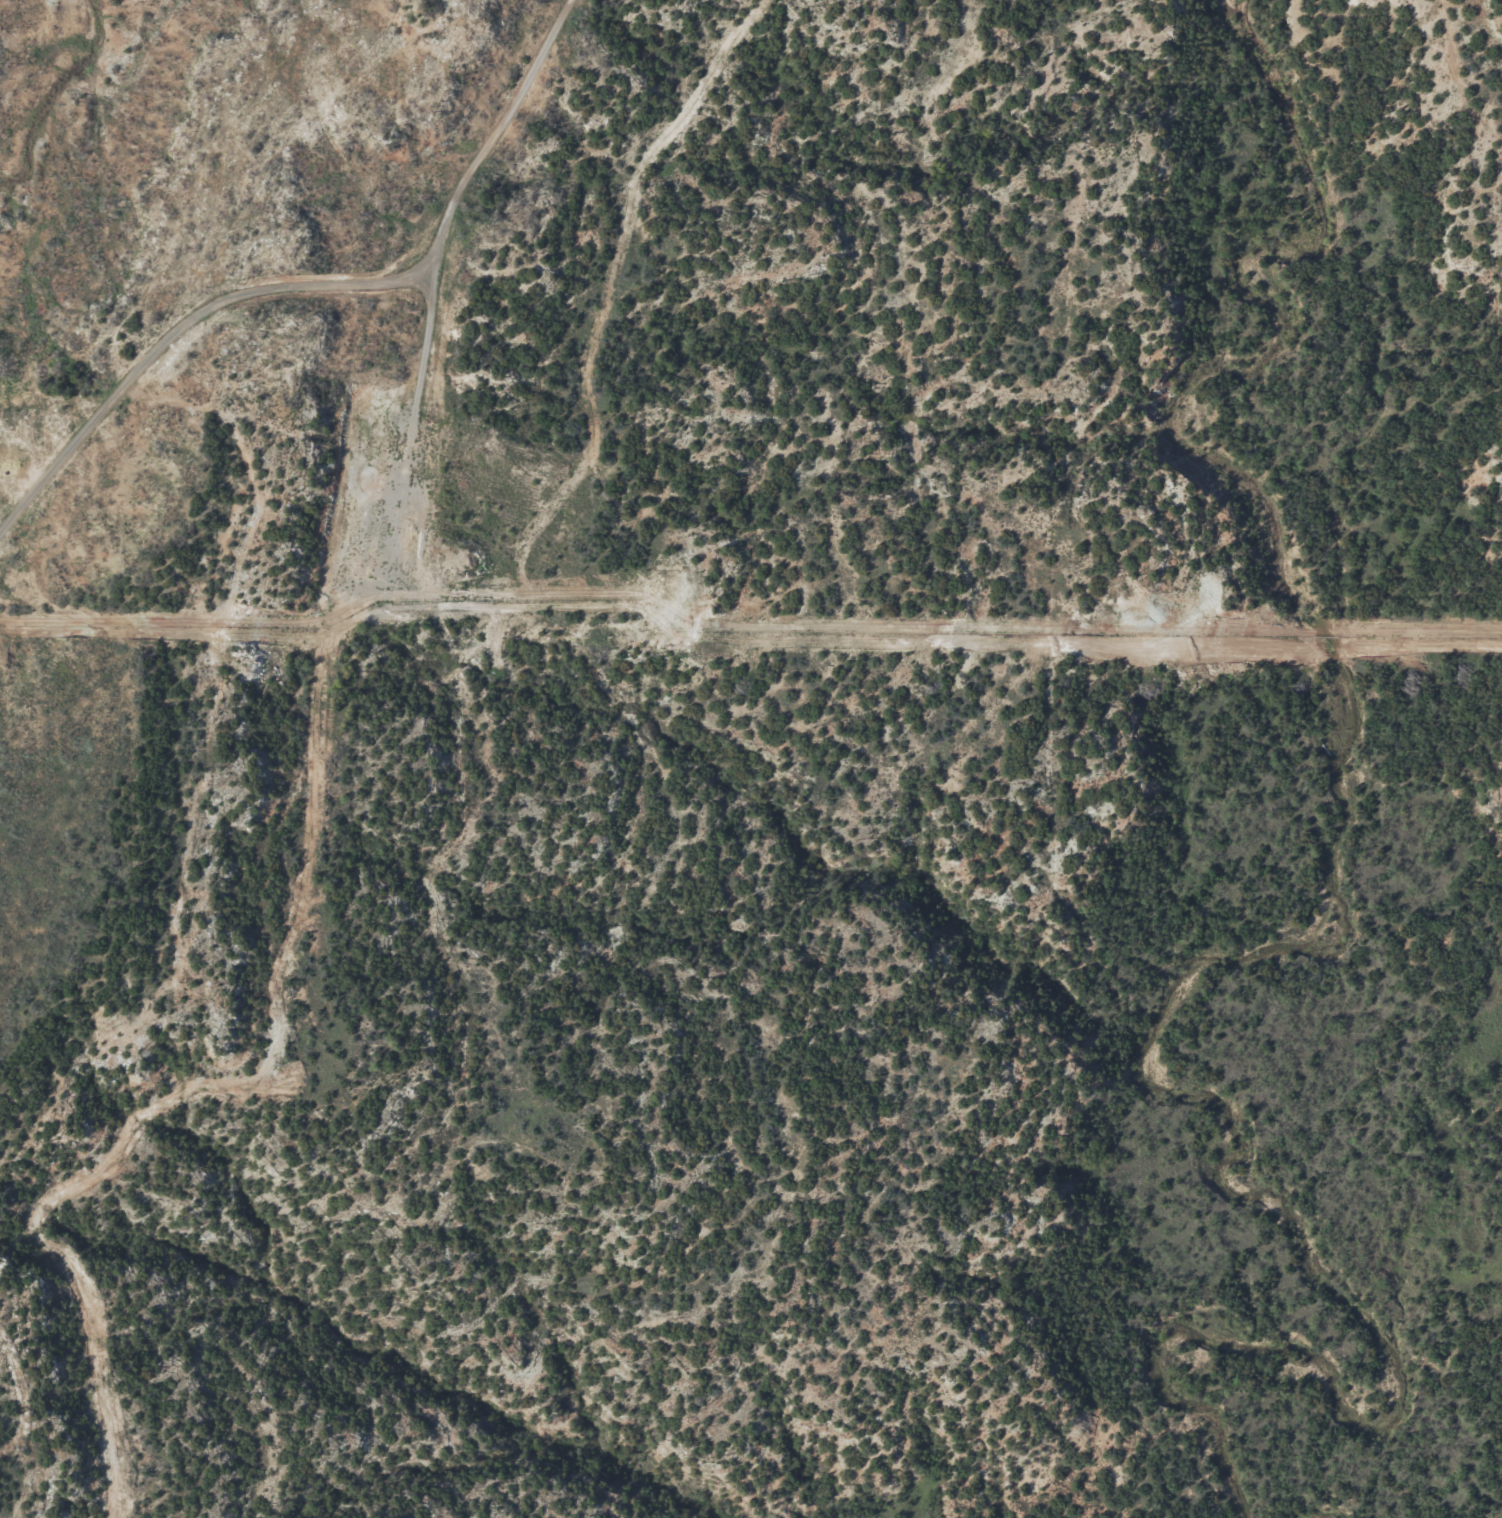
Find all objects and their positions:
road: (279, 279)

